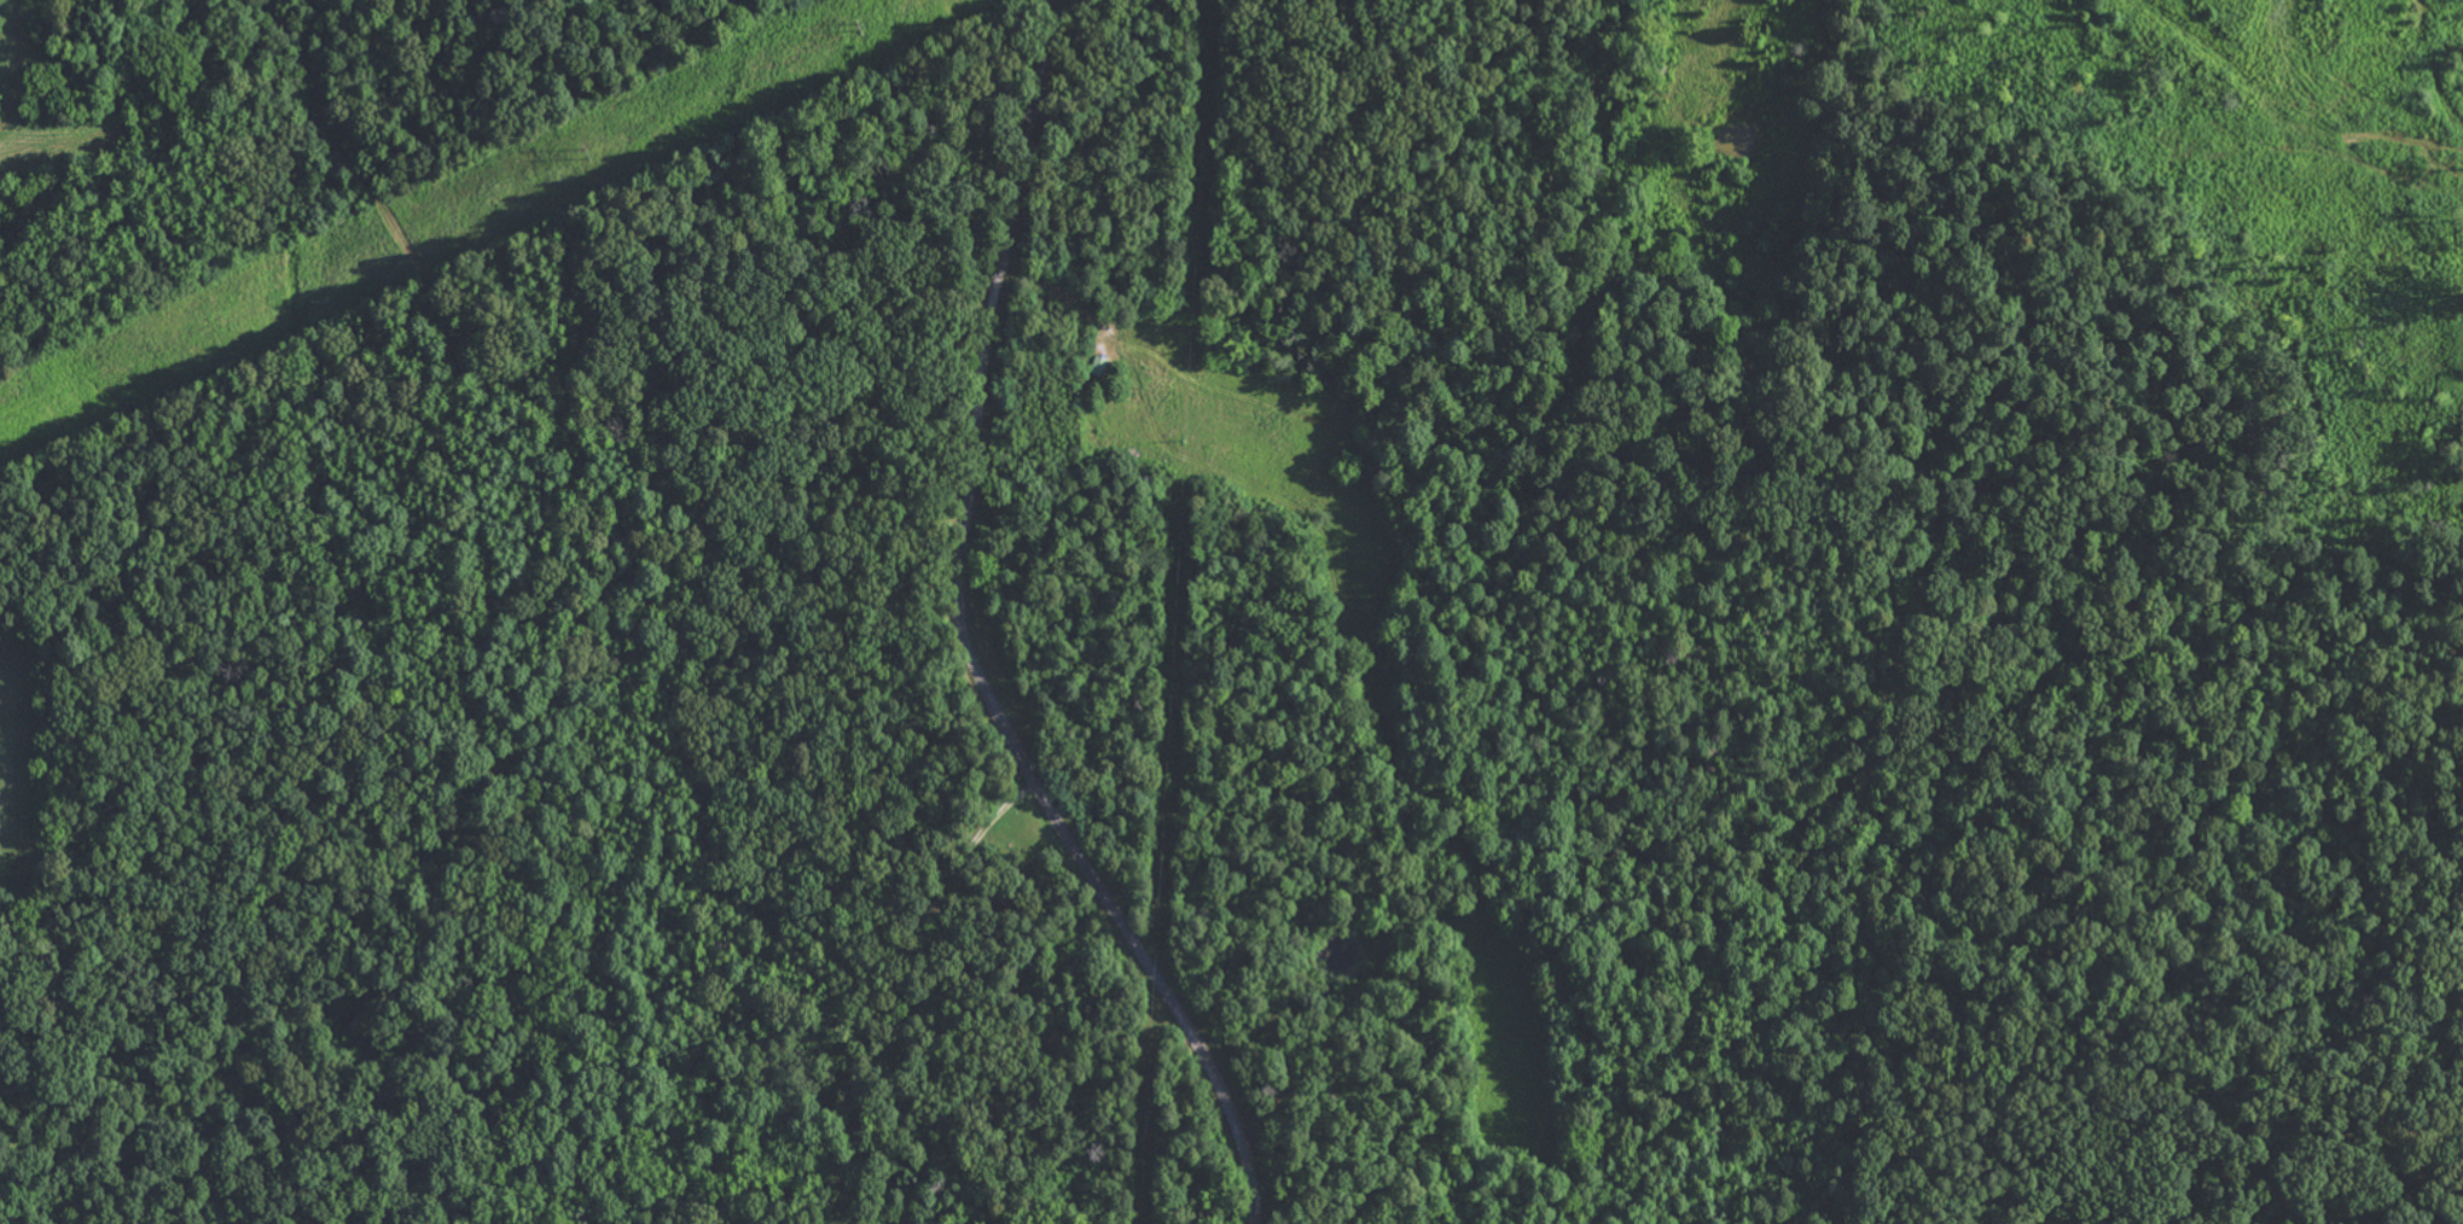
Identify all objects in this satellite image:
road: (963, 646)
road: (8, 899)

